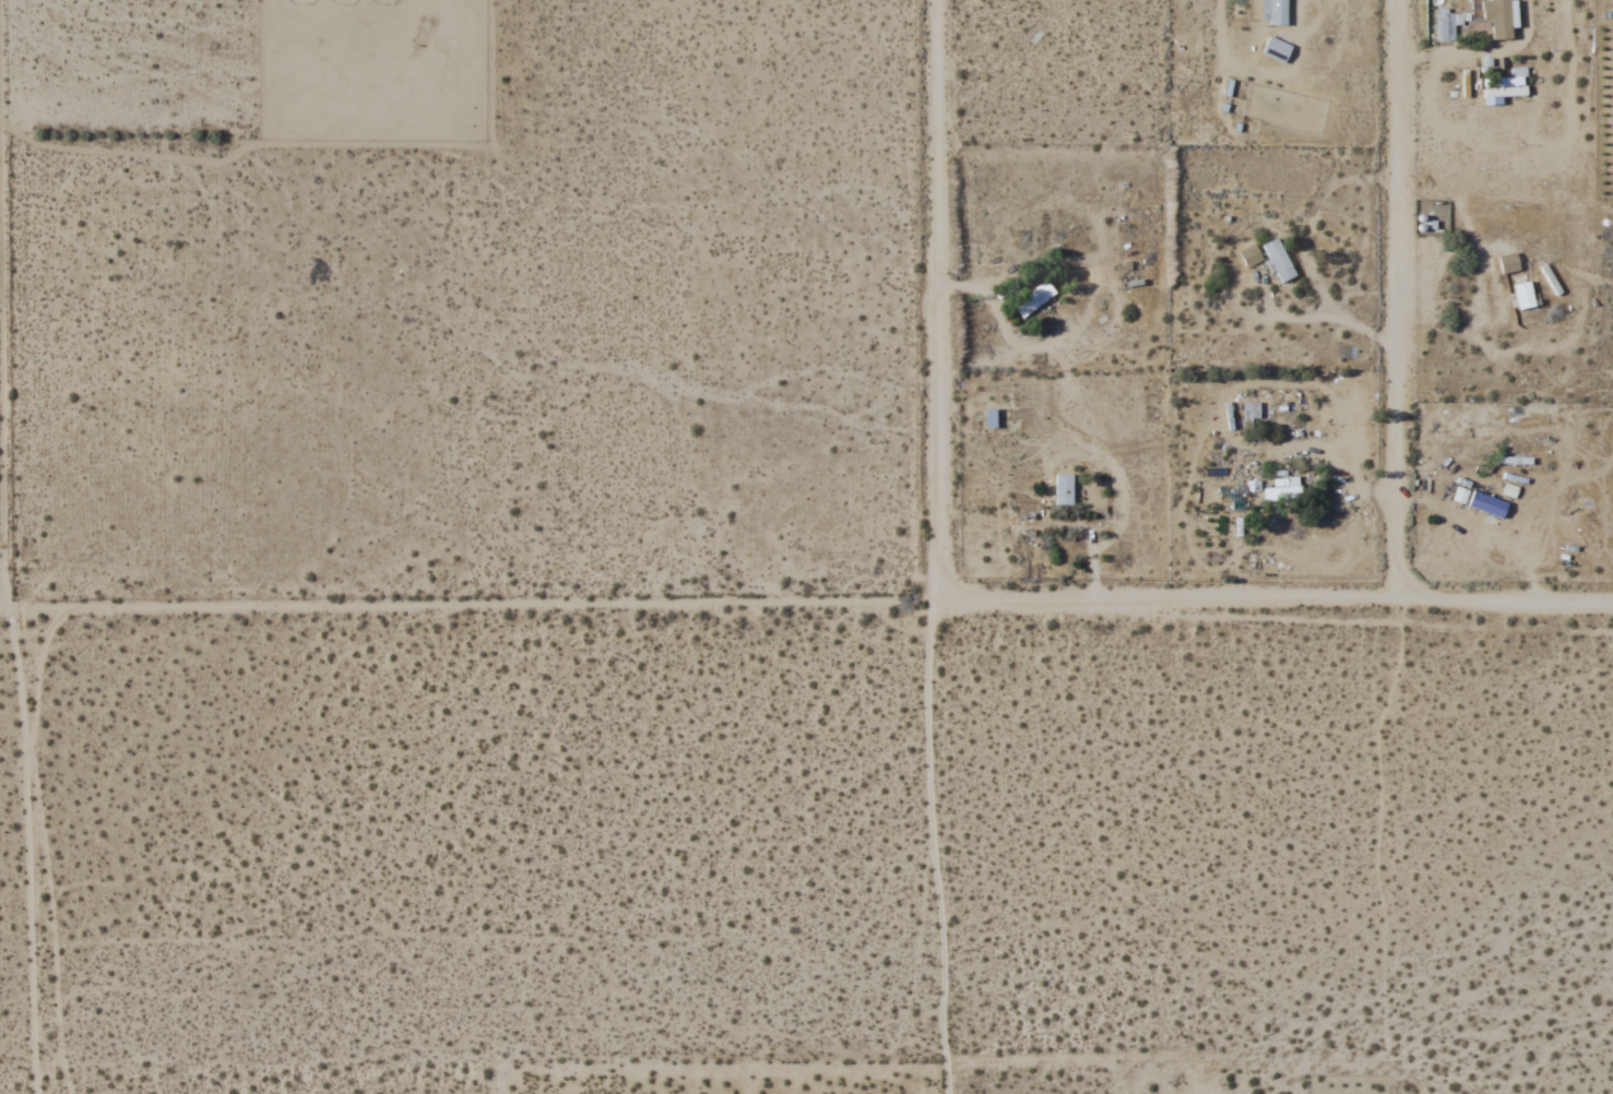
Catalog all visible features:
building: (1273, 12)
building: (1489, 20)
building: (1447, 25)
building: (1276, 50)
building: (1515, 78)
building: (1430, 223)
building: (1249, 255)
building: (1278, 261)
building: (1508, 264)
building: (1523, 294)
building: (1033, 299)
road: (1393, 300)
building: (1249, 409)
building: (989, 417)
building: (1064, 488)
building: (1281, 494)
building: (1487, 504)
road: (7, 547)
road: (940, 547)
road: (806, 603)

